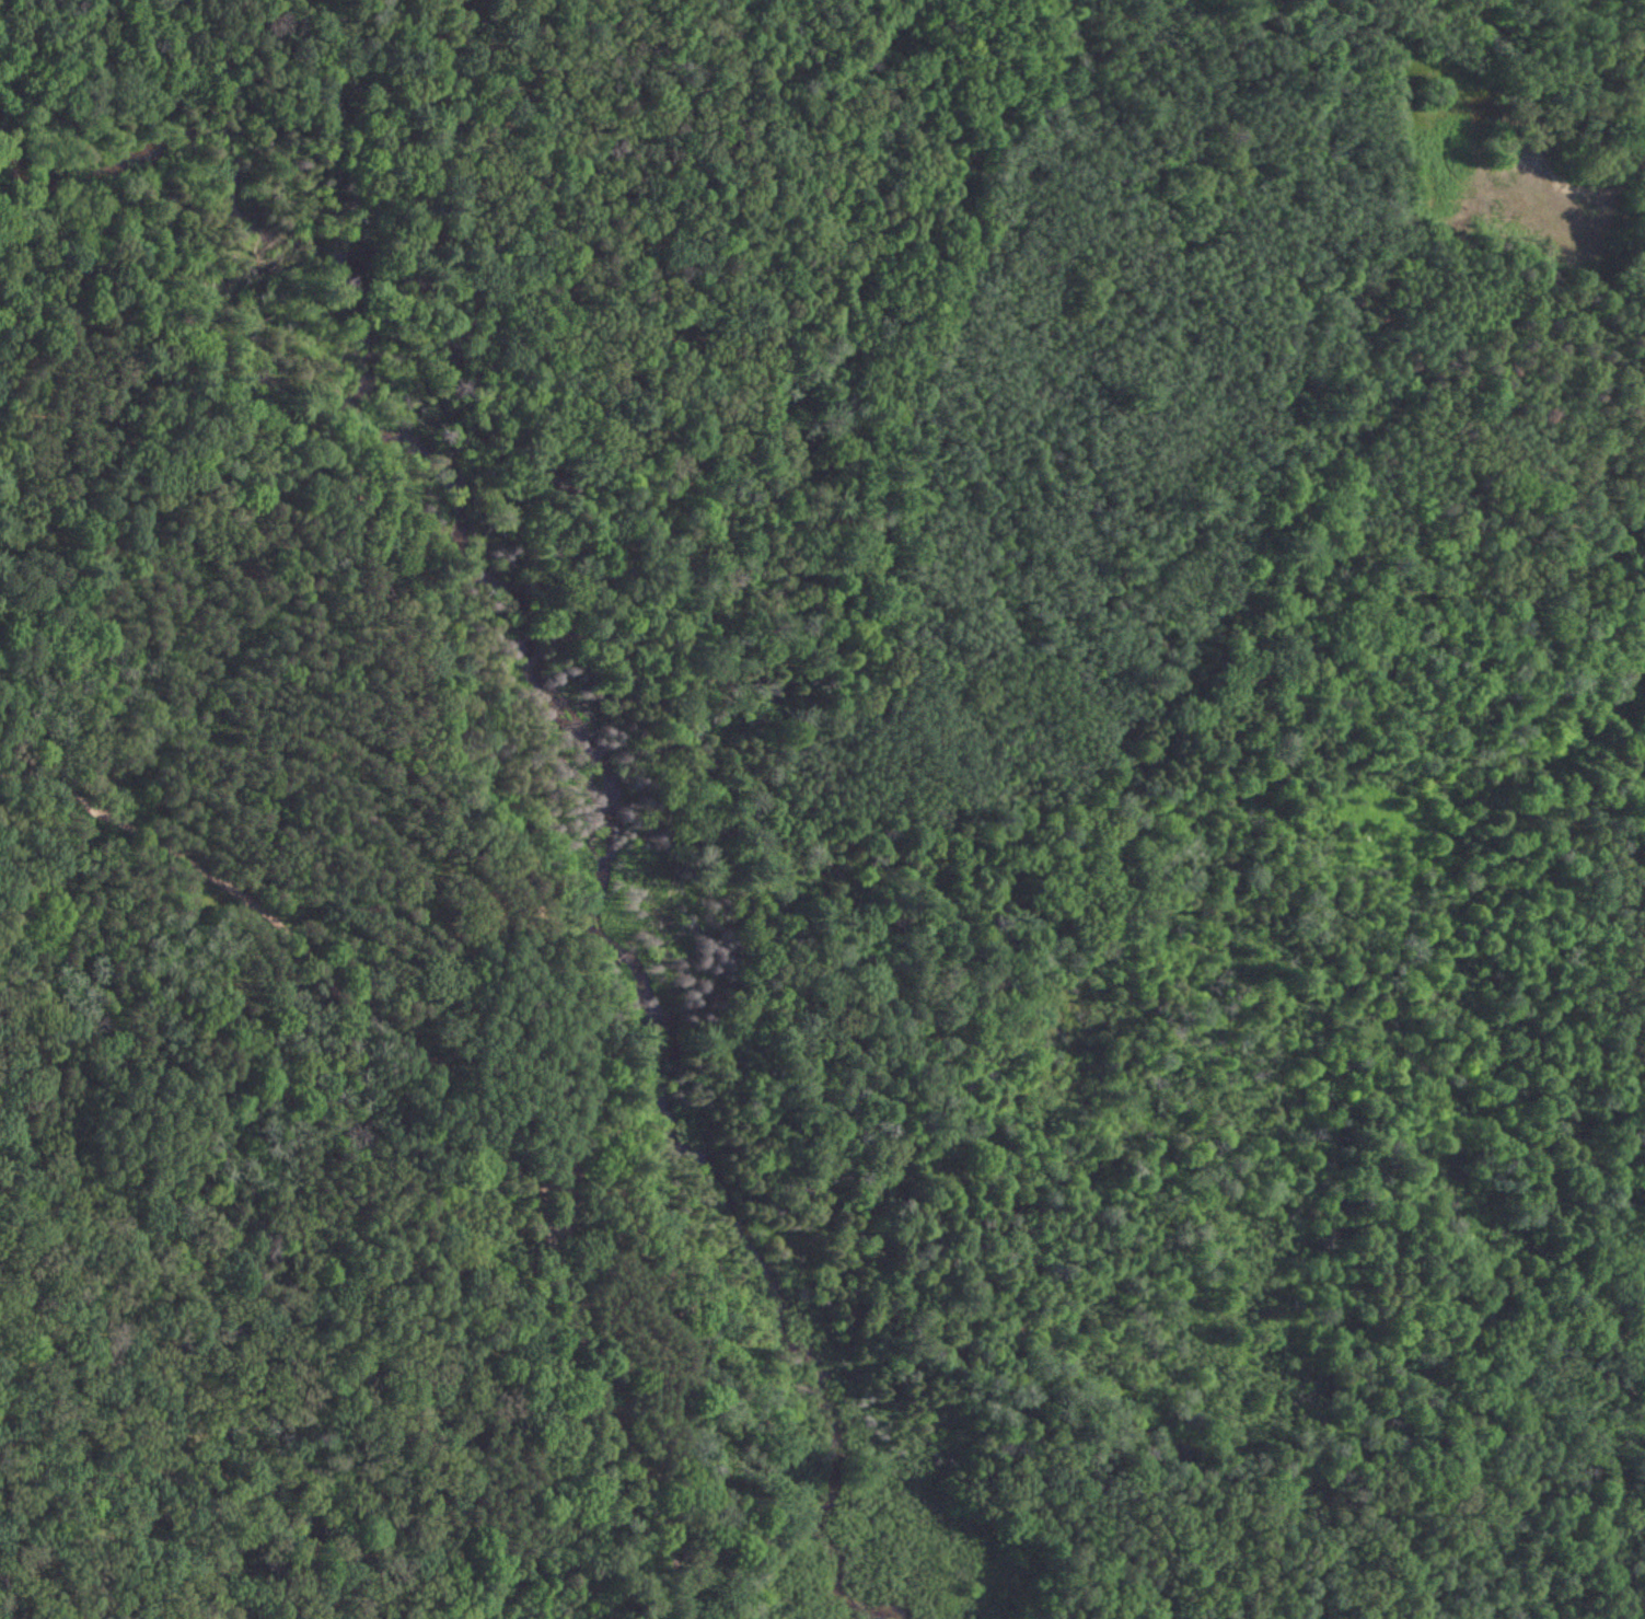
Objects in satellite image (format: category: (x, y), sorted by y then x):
road: (471, 1084)
road: (65, 1542)

